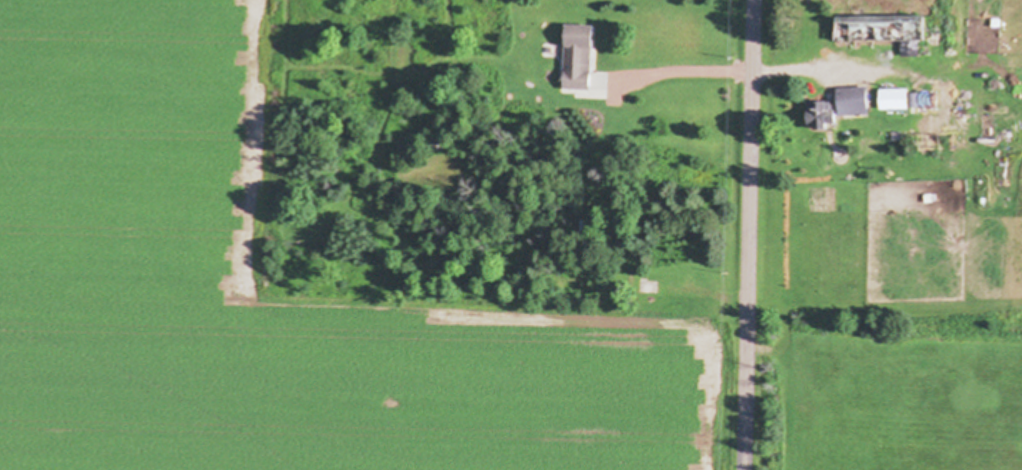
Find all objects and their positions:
building: (885, 30)
building: (580, 58)
road: (731, 72)
building: (896, 100)
building: (855, 102)
road: (748, 235)

